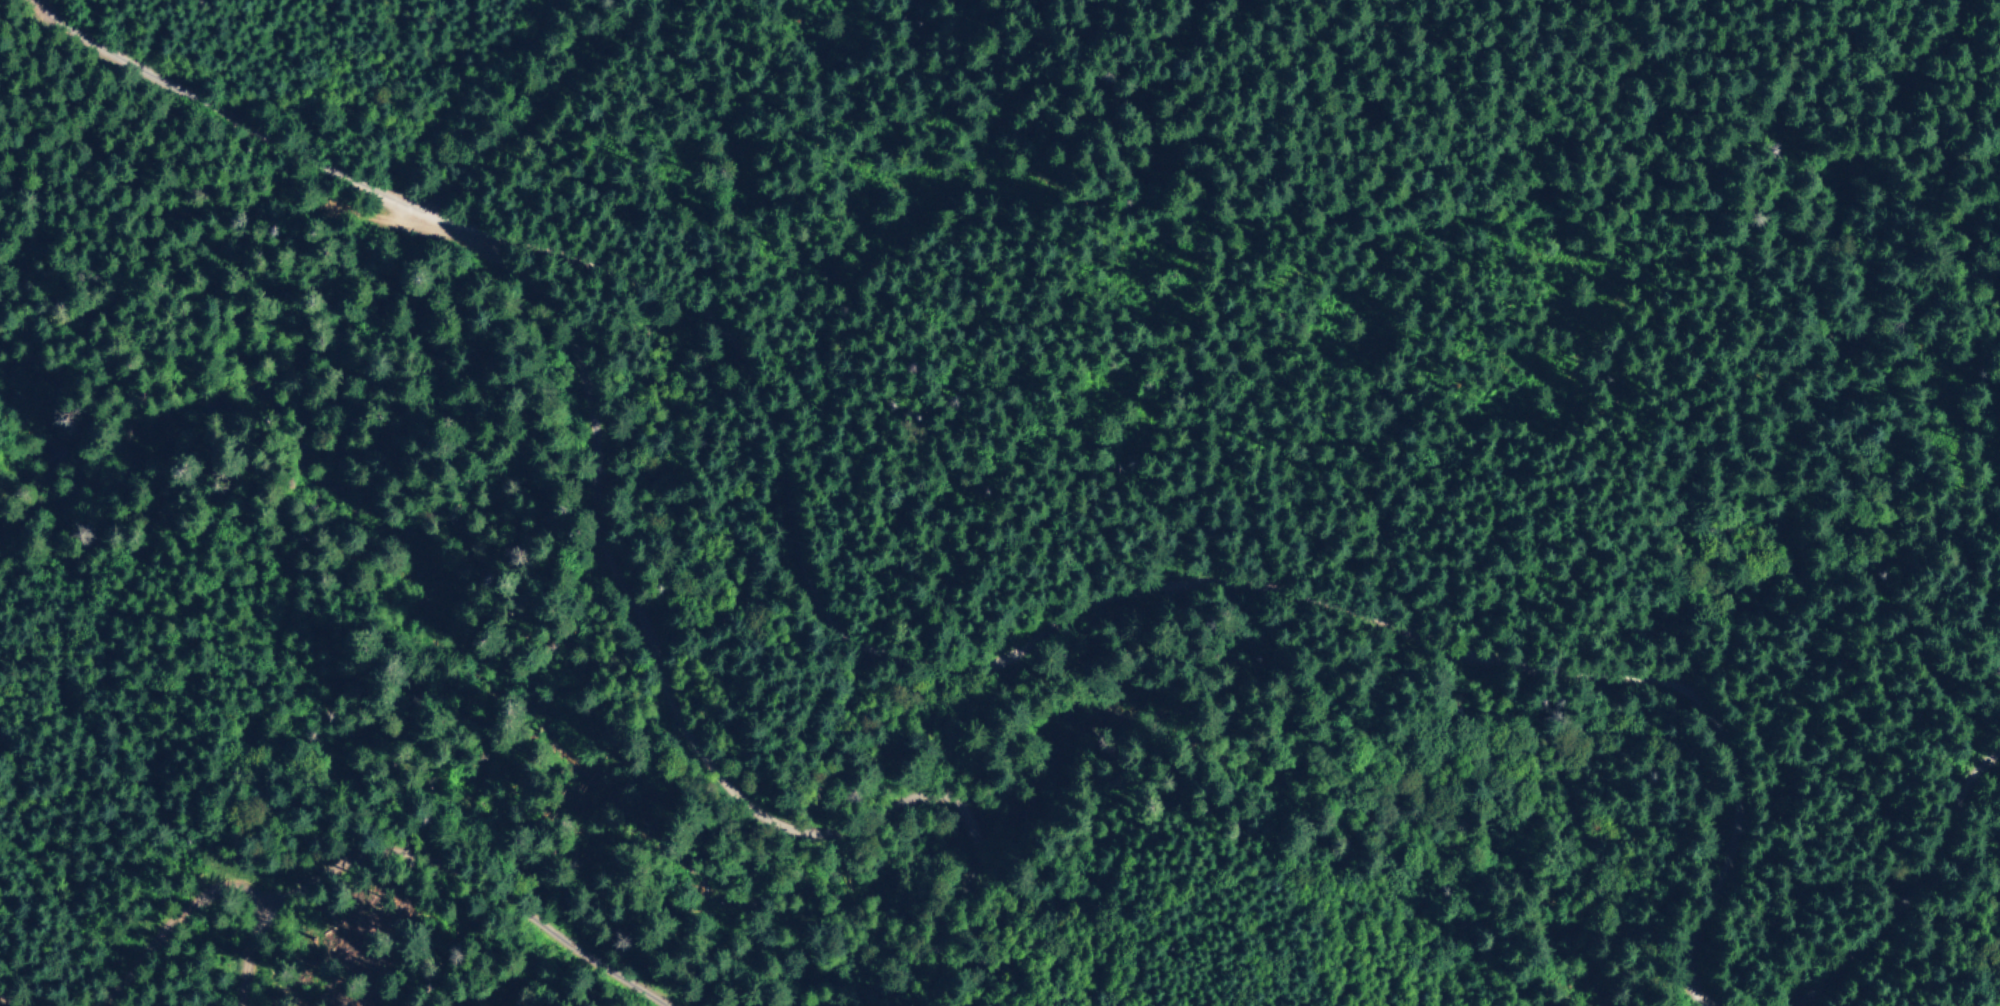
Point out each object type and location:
road: (531, 103)
road: (658, 654)
road: (919, 667)
road: (880, 767)
road: (449, 890)
road: (242, 921)
road: (1930, 926)
road: (220, 939)
road: (153, 963)
road: (228, 988)
road: (2, 1005)

